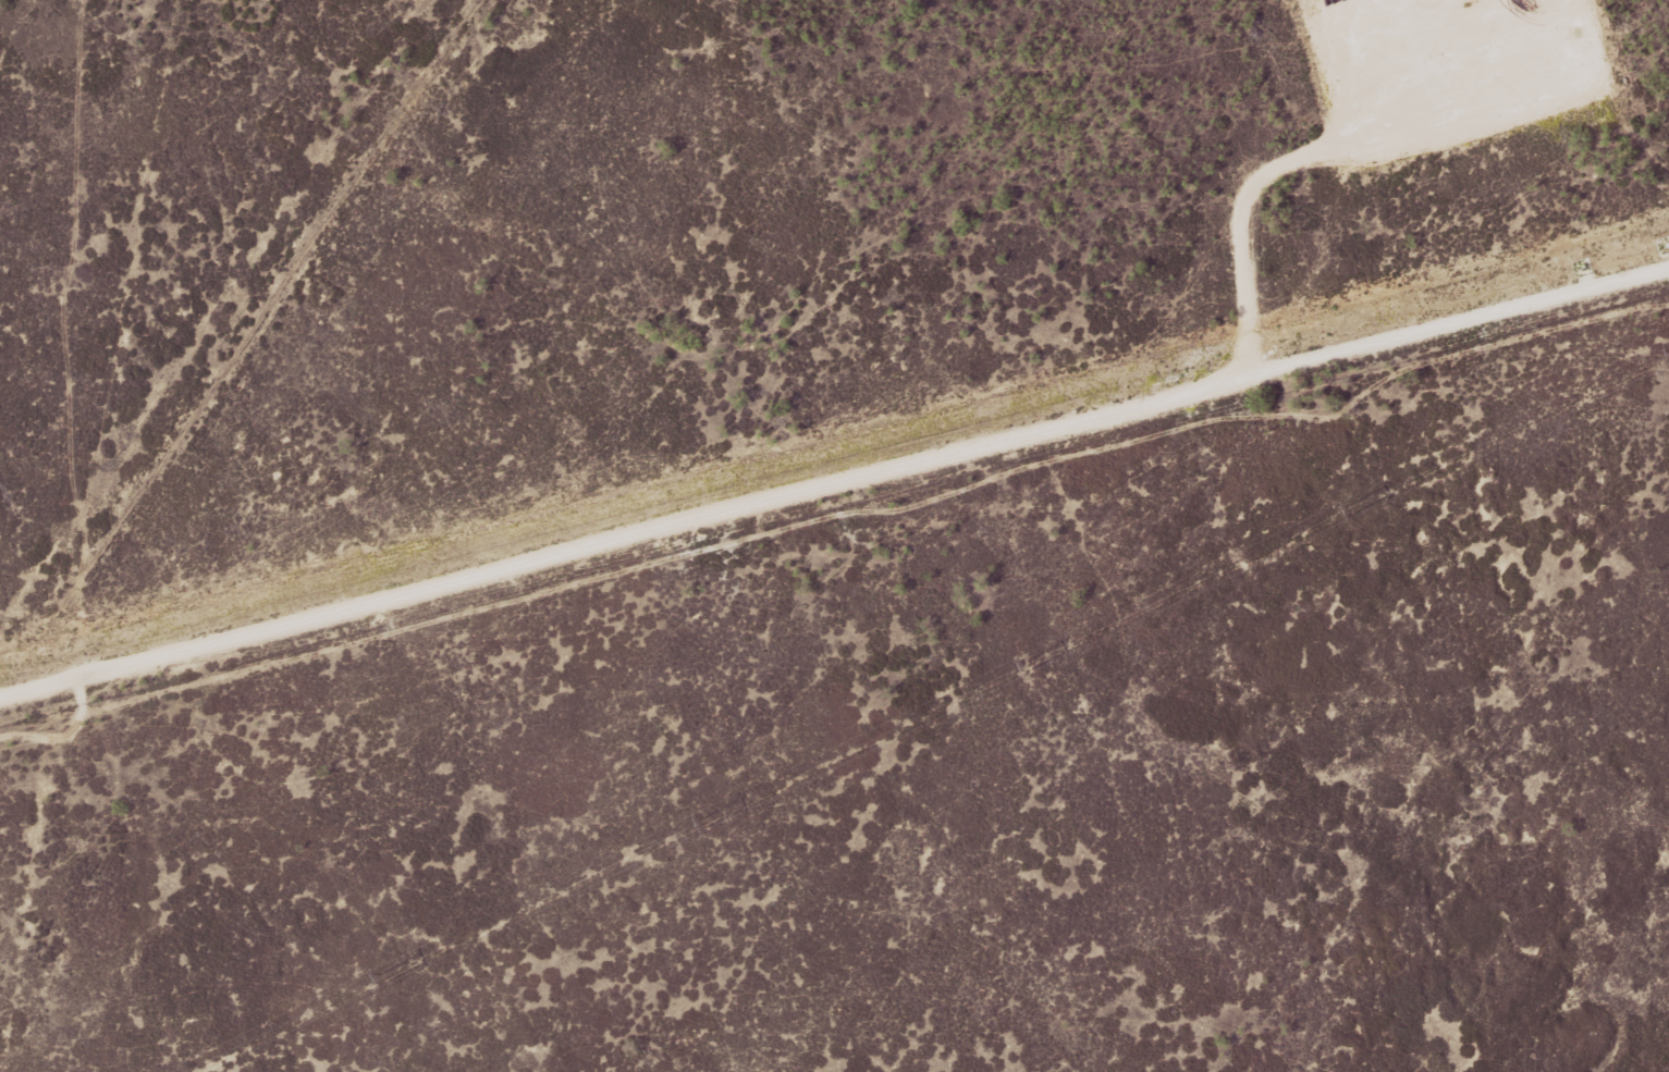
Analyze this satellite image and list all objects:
power tower: (1354, 503)
power tower: (1032, 661)
power tower: (708, 820)
power tower: (386, 975)

